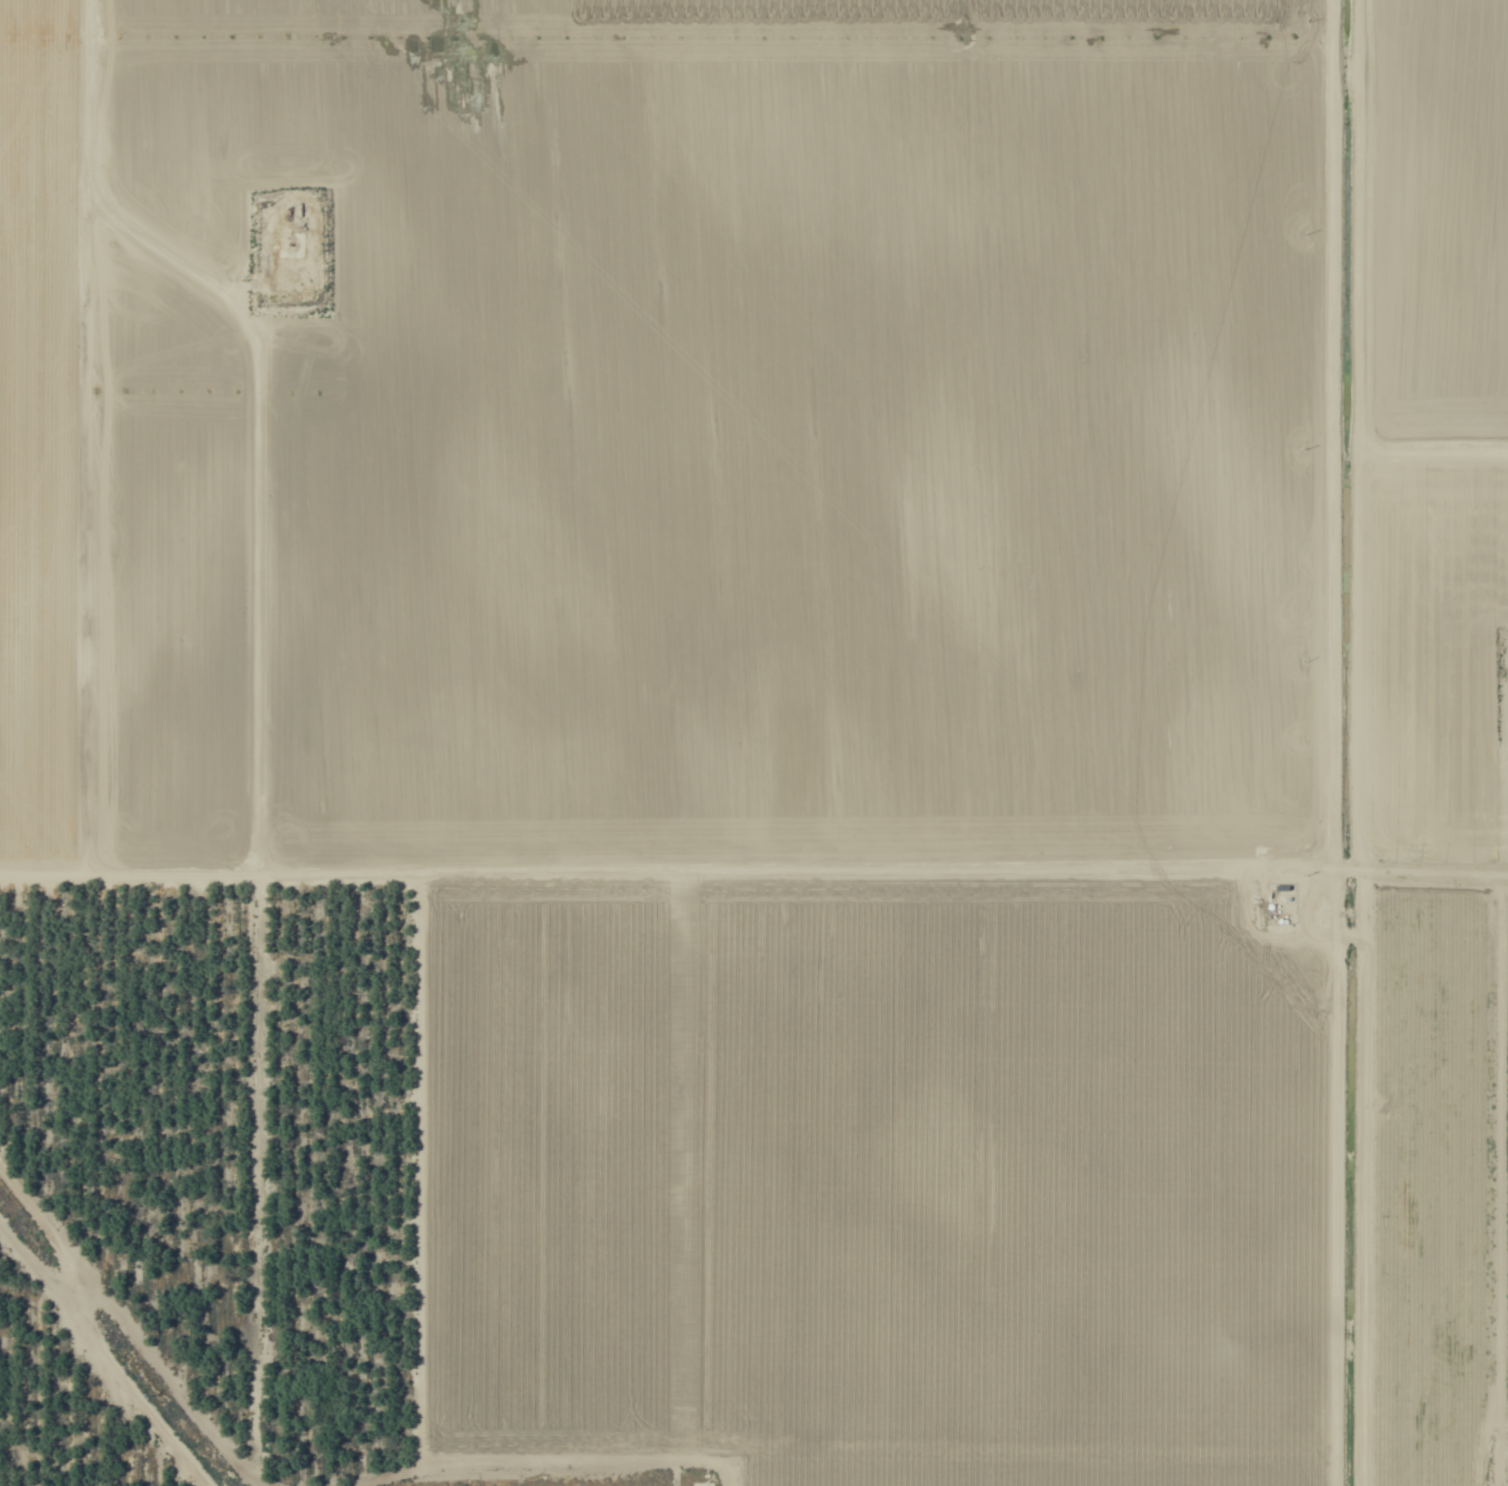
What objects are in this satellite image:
road: (1334, 434)
road: (75, 435)
crop: (754, 743)
road: (968, 869)
road: (214, 871)
road: (1335, 1177)
road: (112, 1330)
road: (411, 1350)

